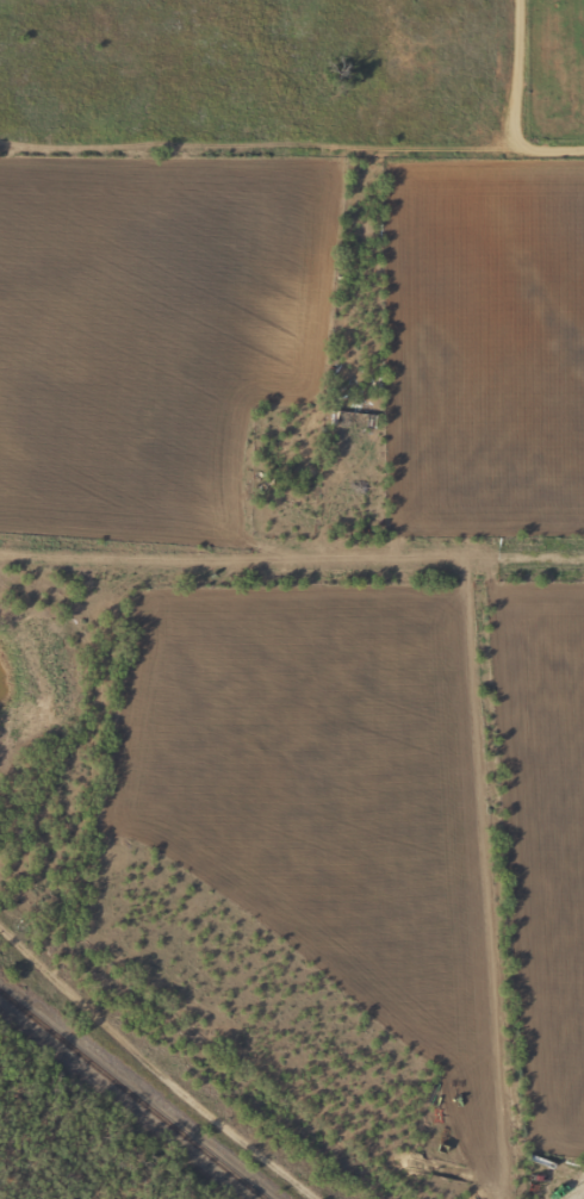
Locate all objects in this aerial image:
building: (336, 417)
road: (154, 1070)
railway: (129, 1100)

